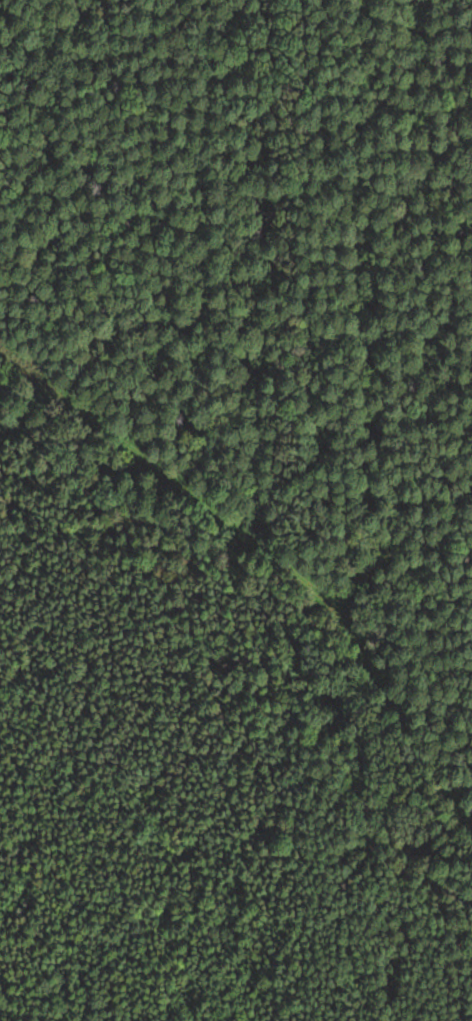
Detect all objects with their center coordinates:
road: (267, 574)

